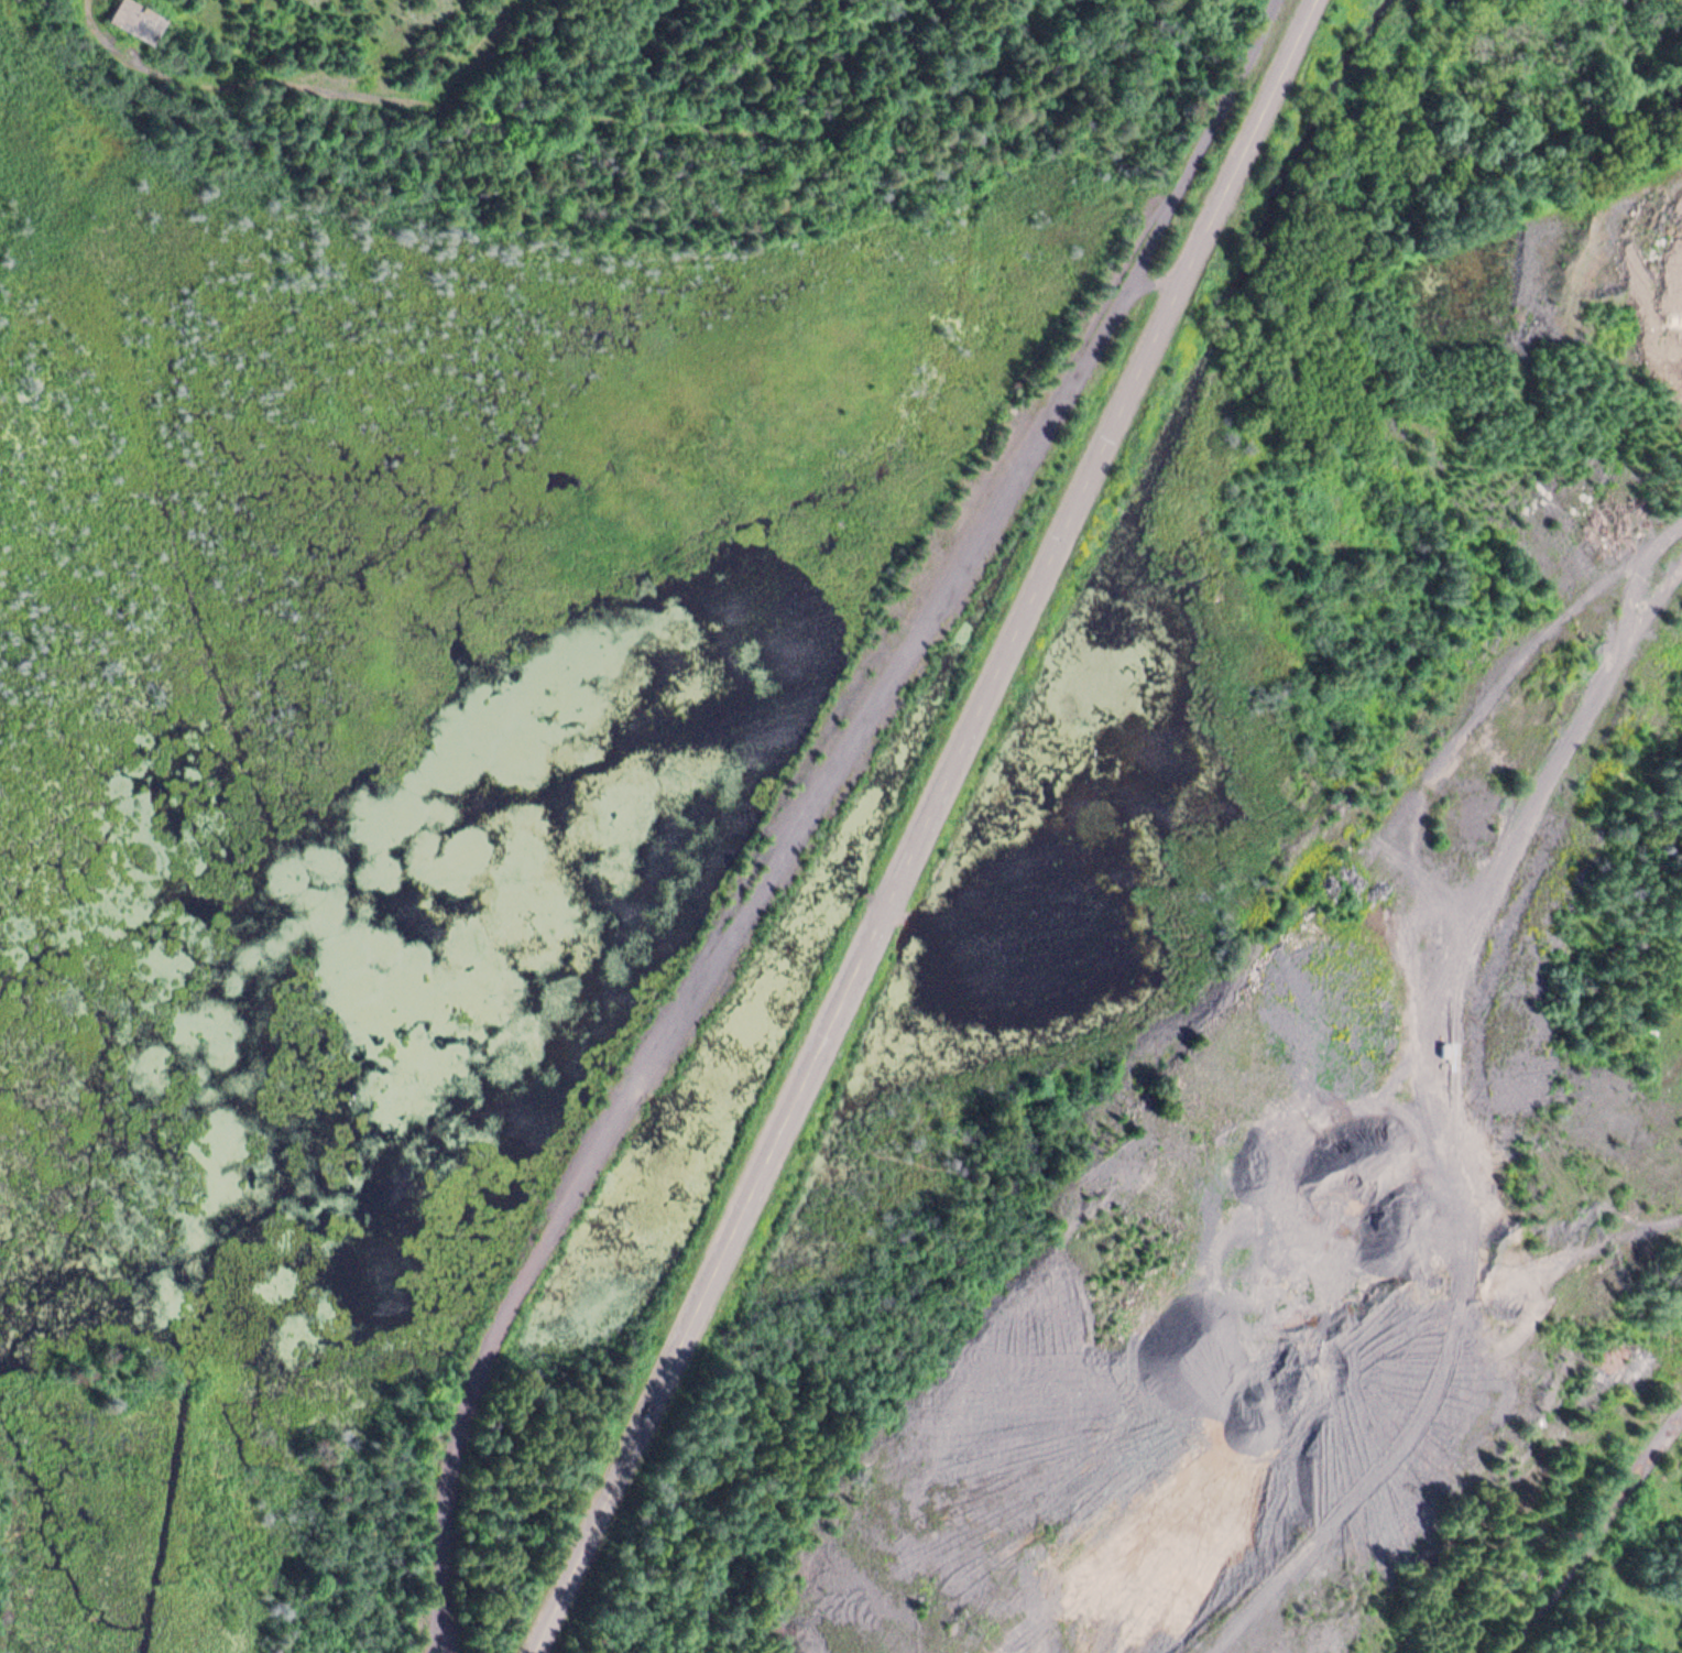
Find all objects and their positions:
building: (136, 20)
road: (817, 814)
road: (930, 828)
road: (1593, 1535)

